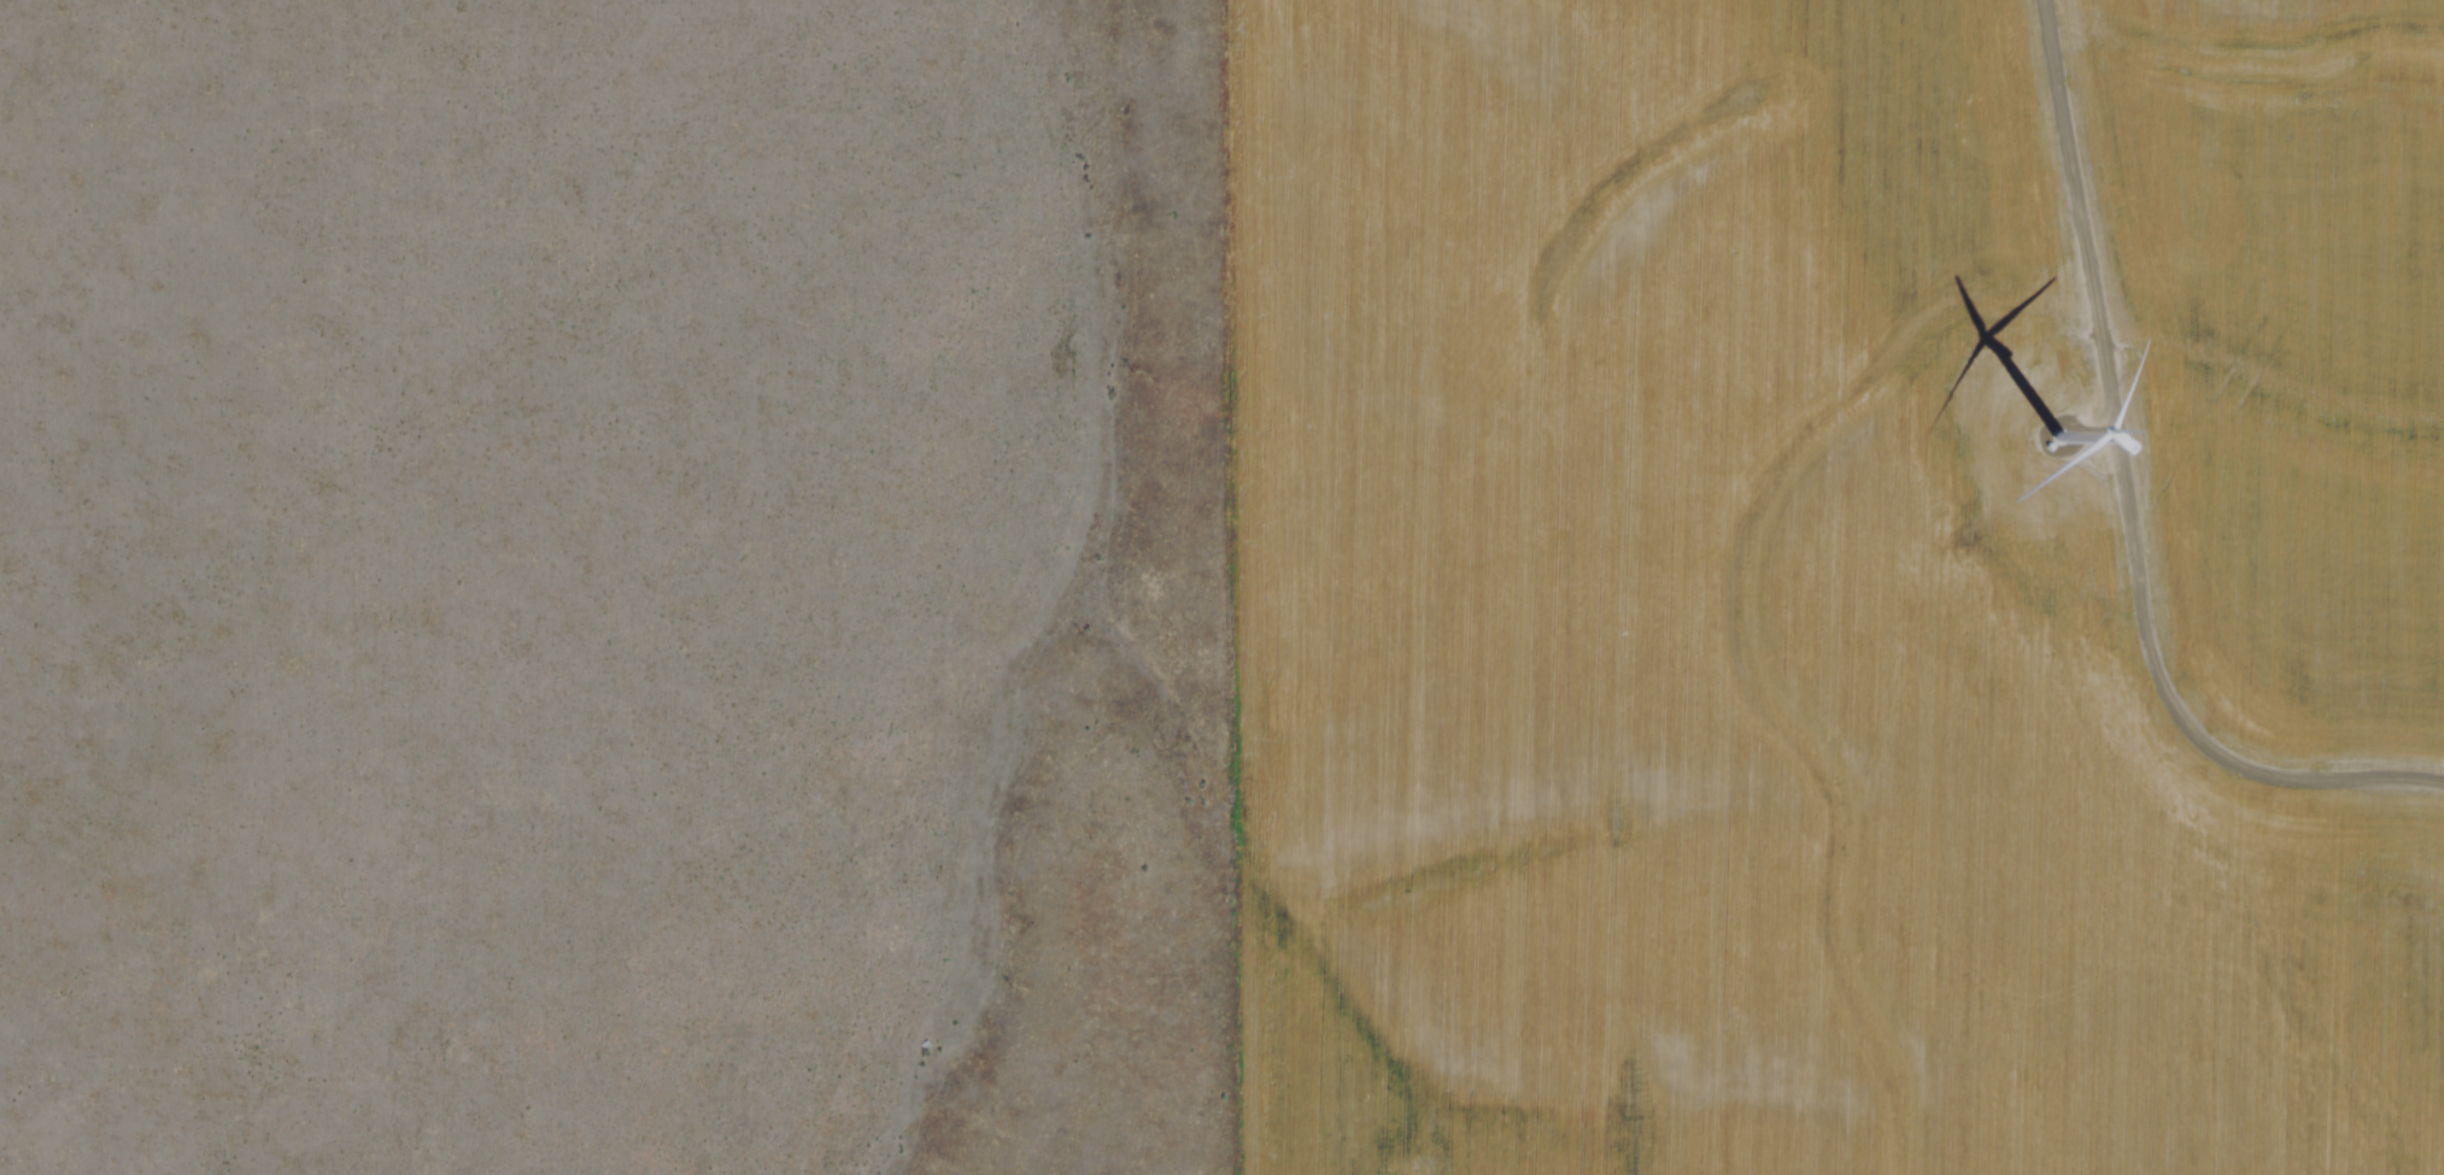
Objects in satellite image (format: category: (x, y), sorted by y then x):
wind turbine: (2057, 436)
road: (2126, 498)

